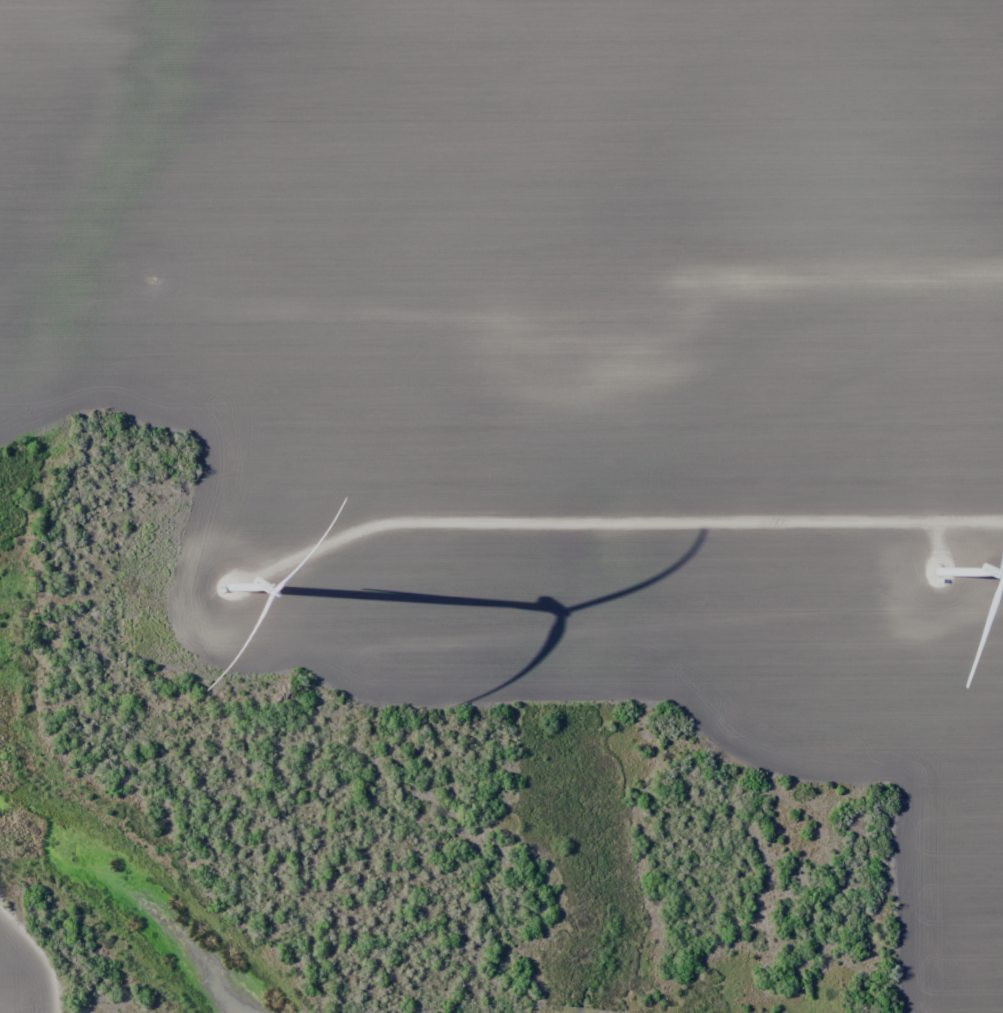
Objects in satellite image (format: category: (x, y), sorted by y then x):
wind turbine: (942, 571)
wind turbine: (235, 584)

